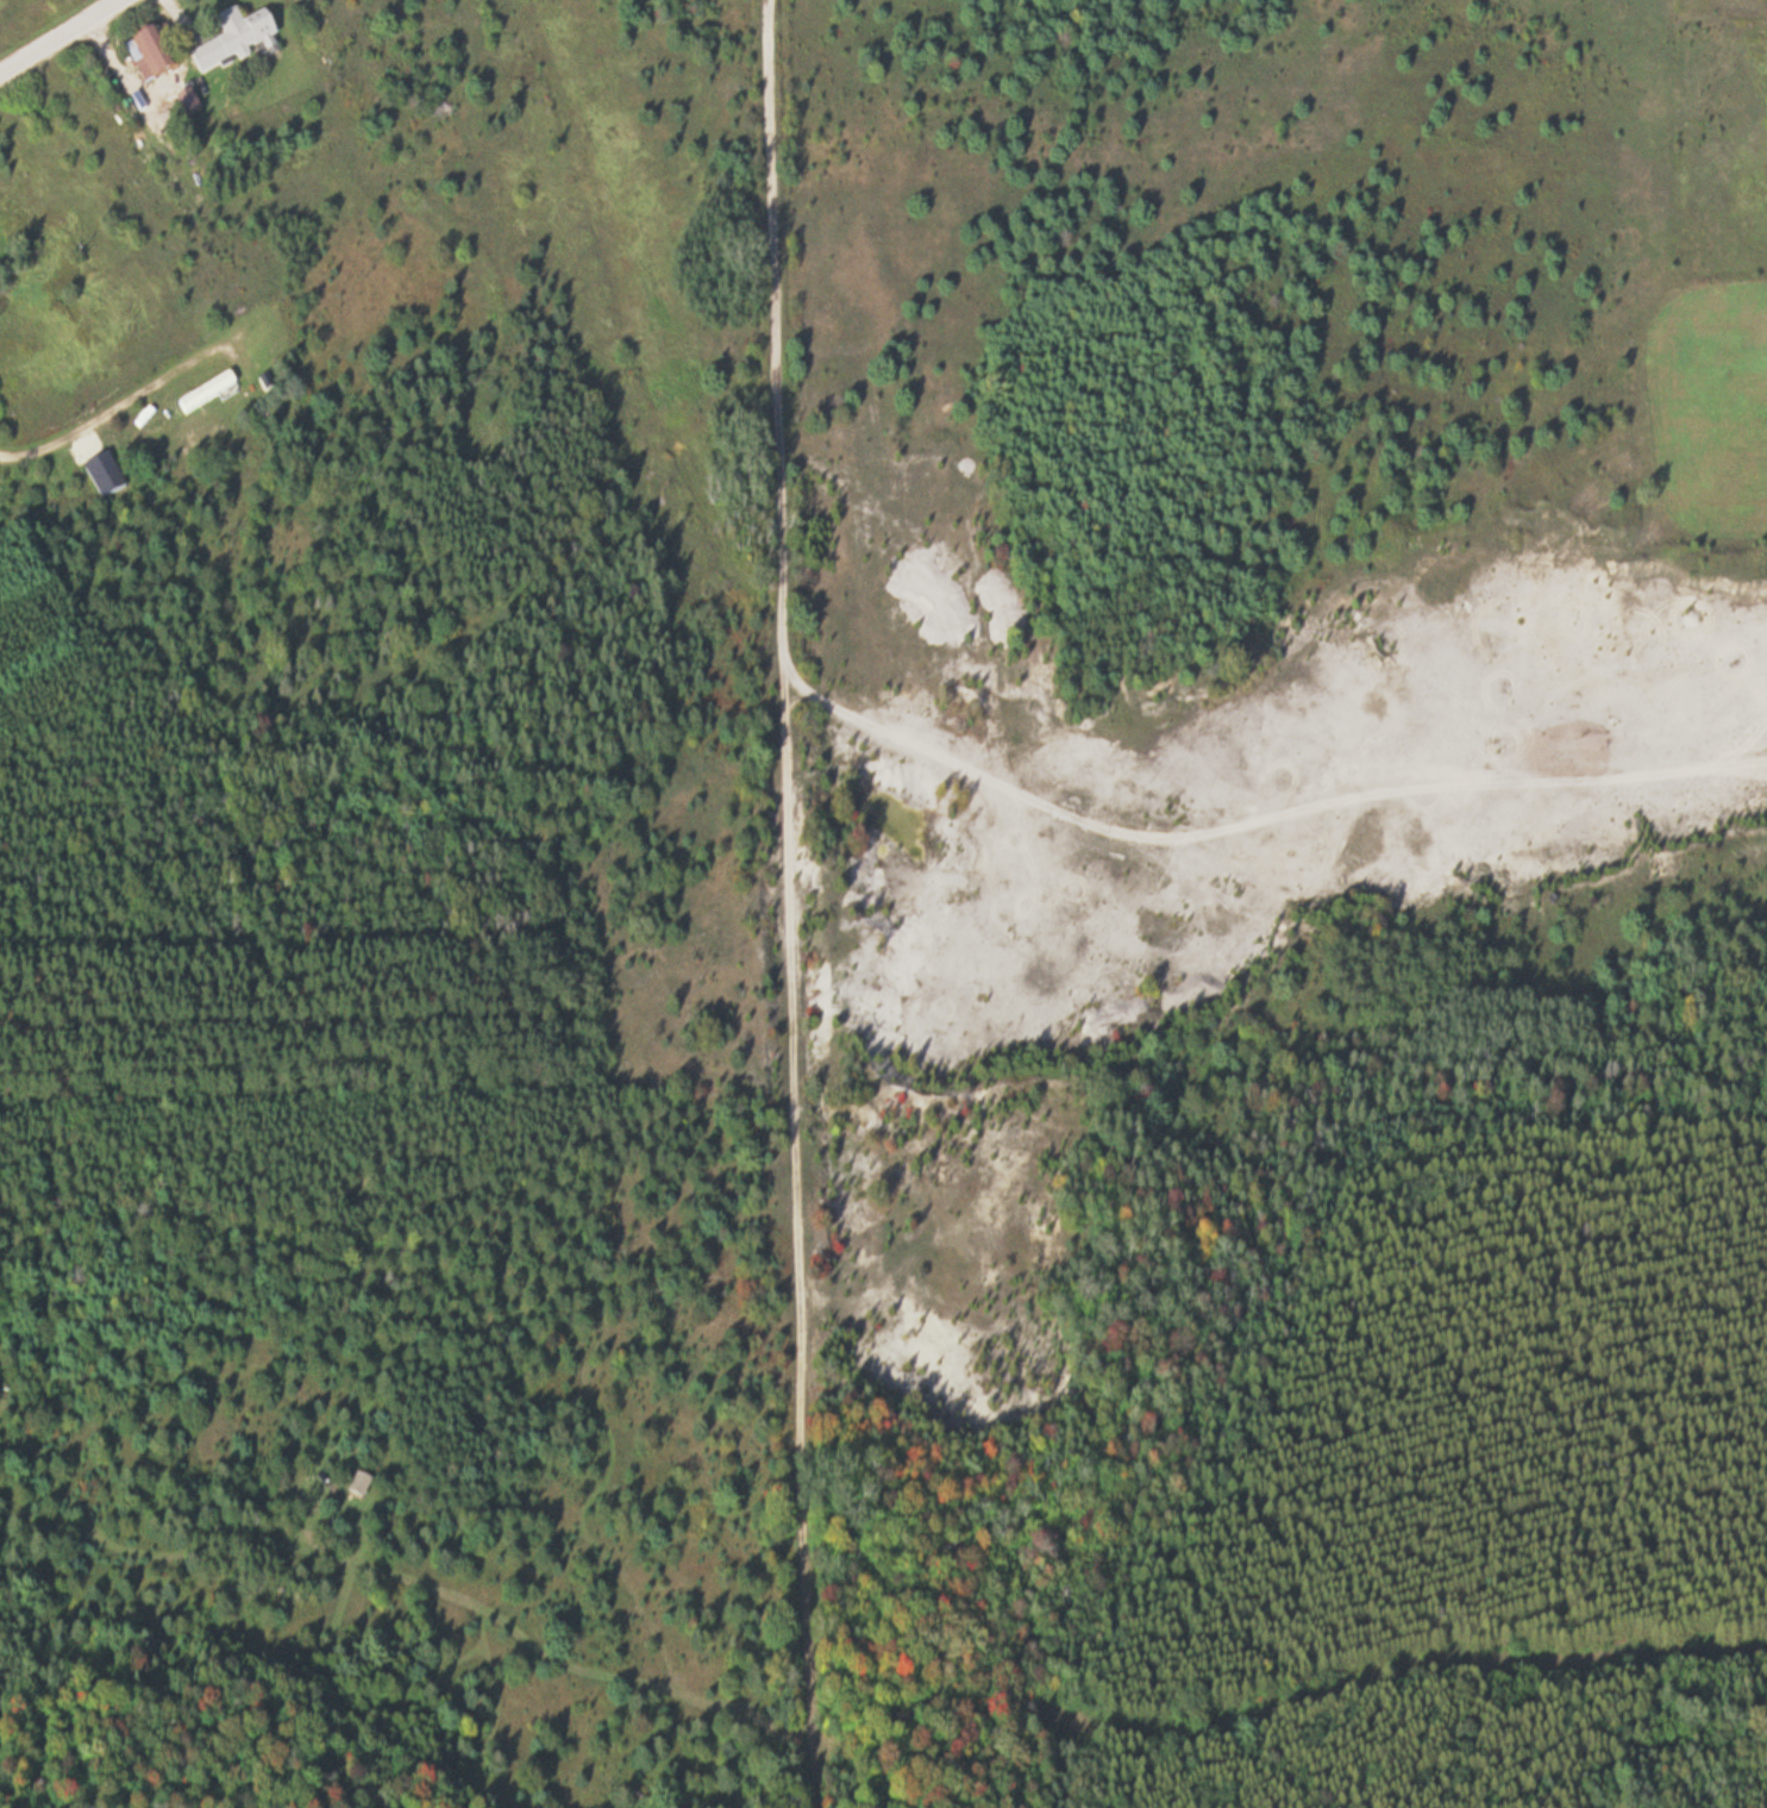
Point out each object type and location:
road: (61, 37)
building: (238, 42)
building: (209, 394)
road: (796, 903)
building: (362, 1487)

